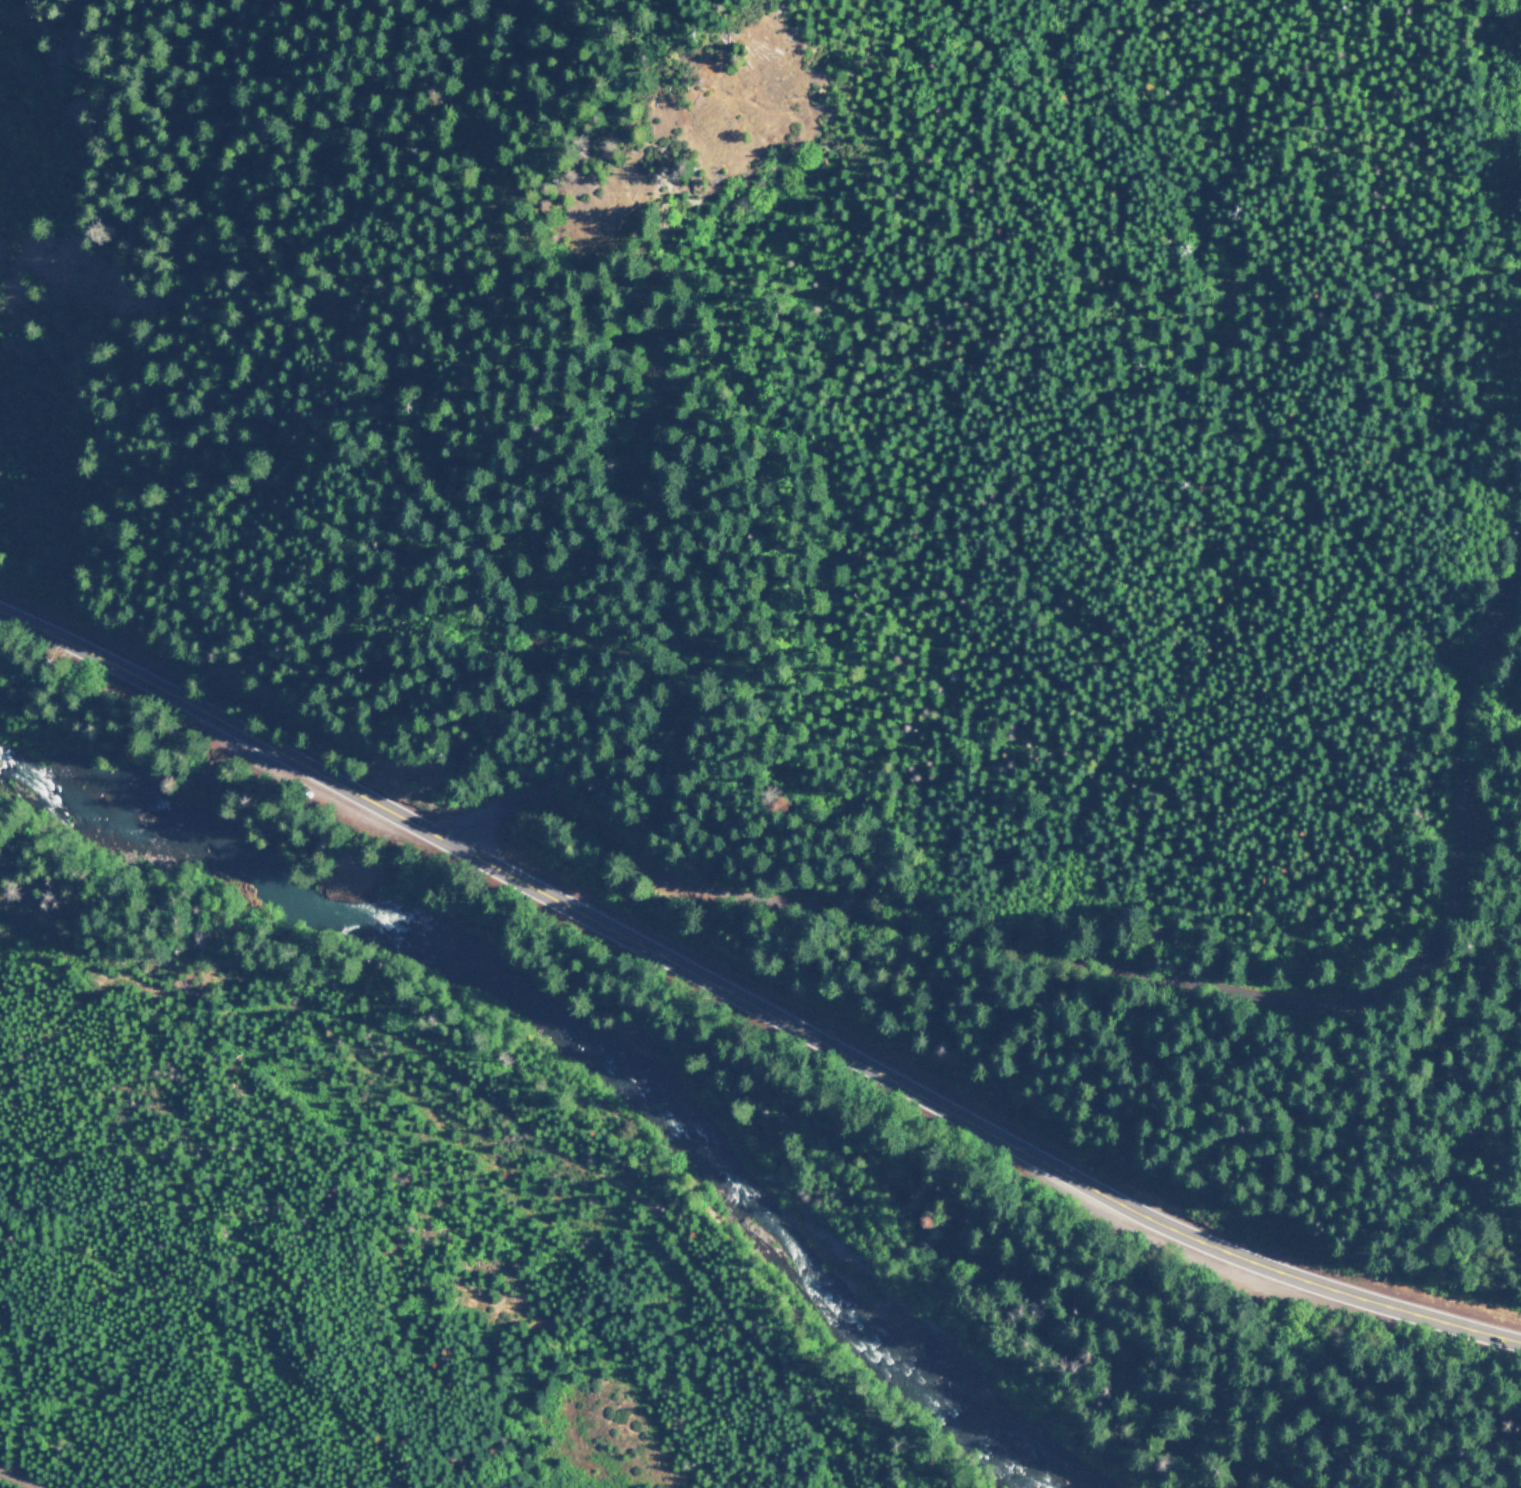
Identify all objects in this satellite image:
road: (1130, 979)
road: (748, 1009)
river: (587, 1045)

